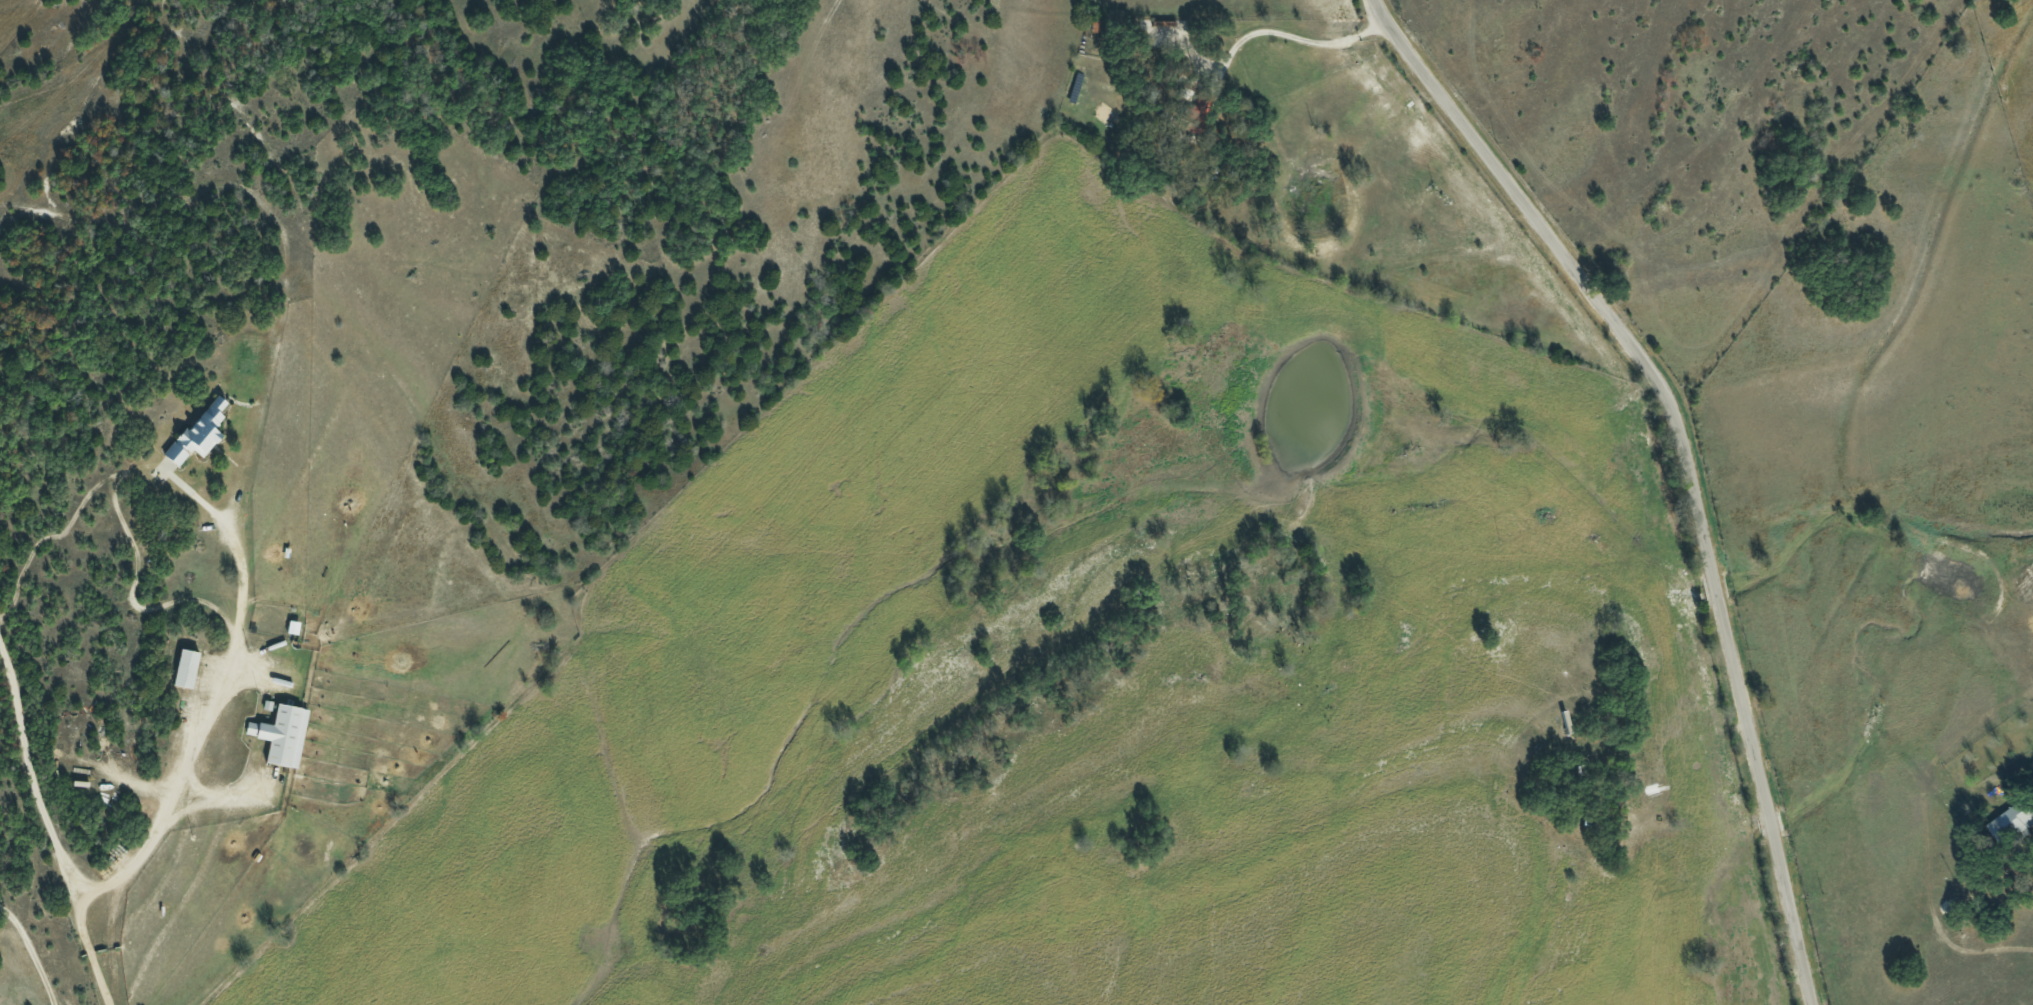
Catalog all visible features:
road: (1298, 37)
building: (201, 431)
road: (1685, 460)
building: (187, 668)
building: (284, 735)
road: (189, 747)
road: (29, 785)
building: (2015, 819)
road: (31, 952)

